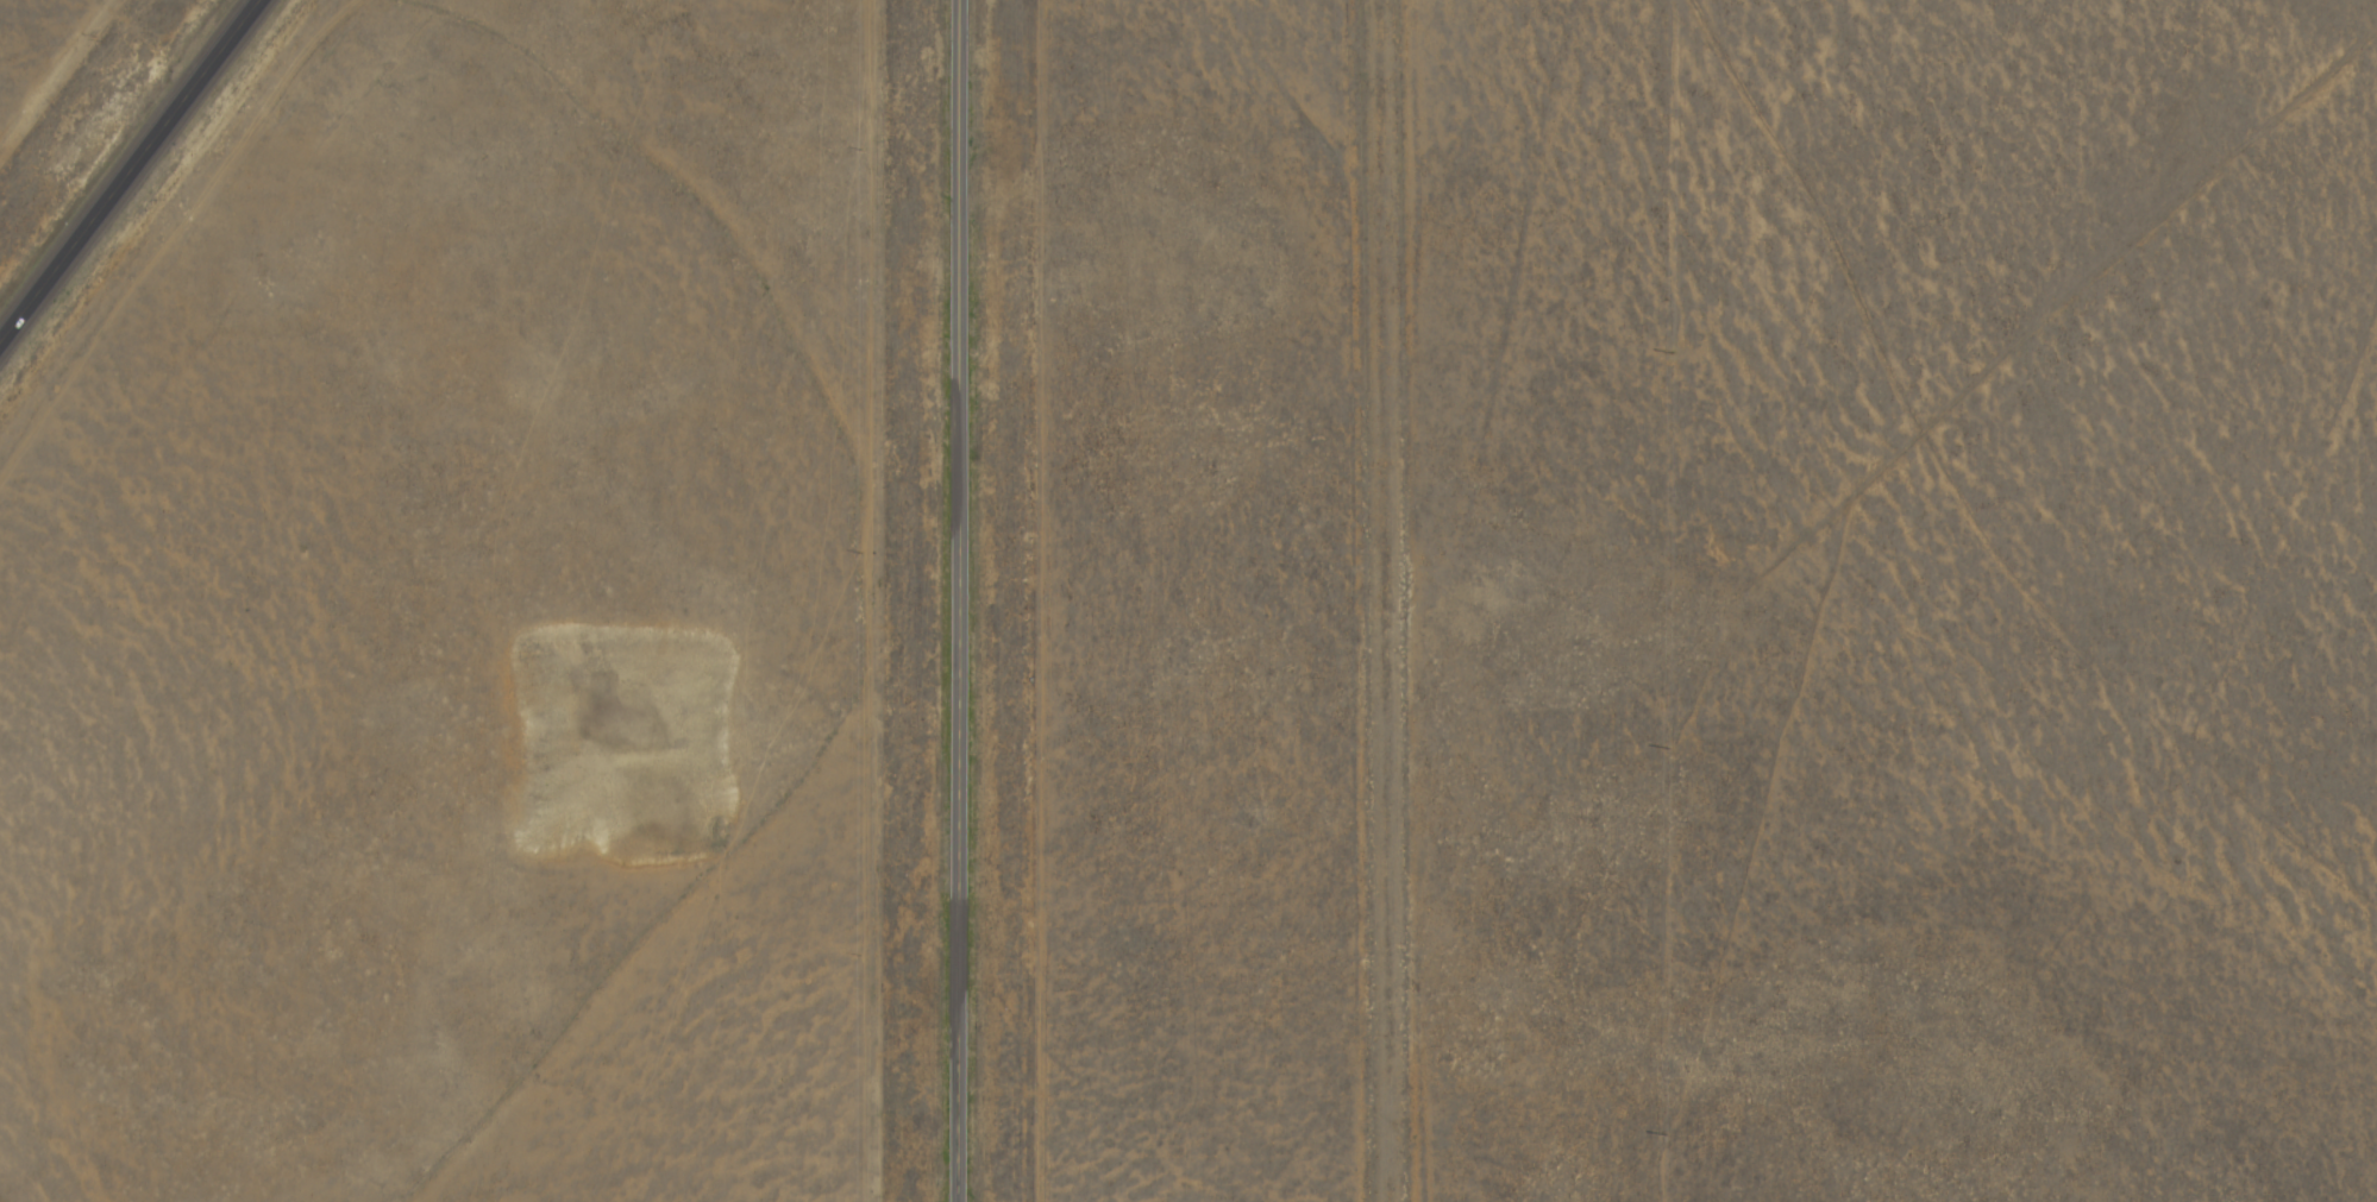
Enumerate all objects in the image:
road: (128, 170)
road: (957, 600)
road: (1437, 600)

